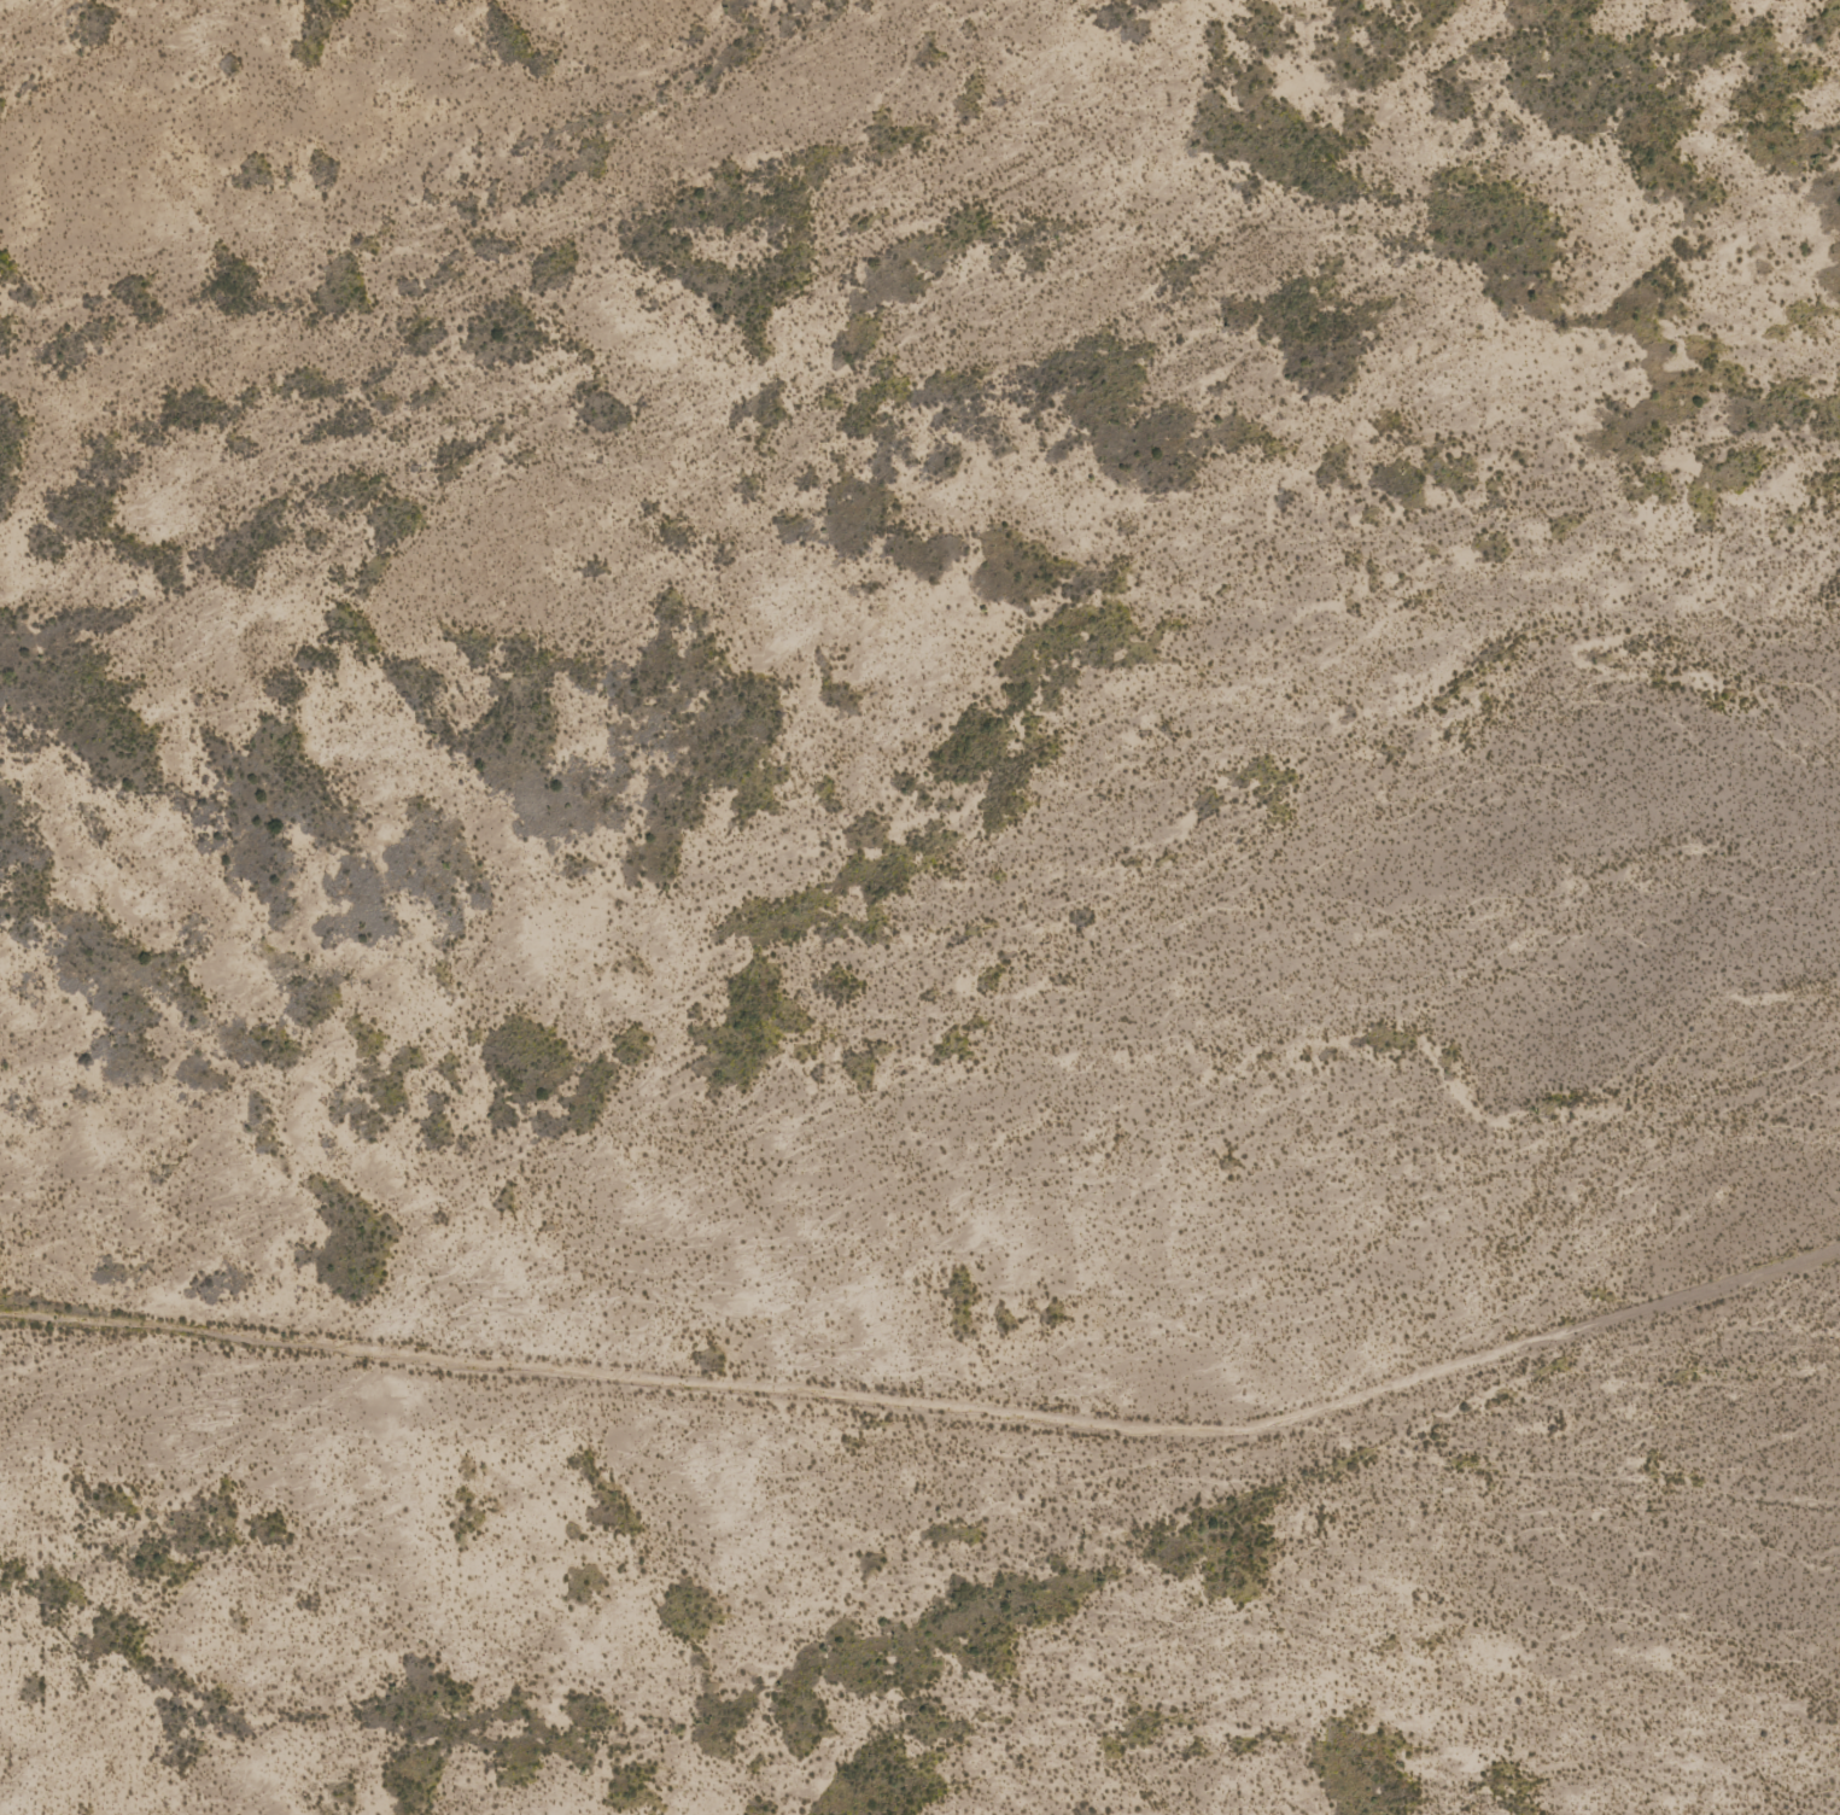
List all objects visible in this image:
road: (929, 1408)

